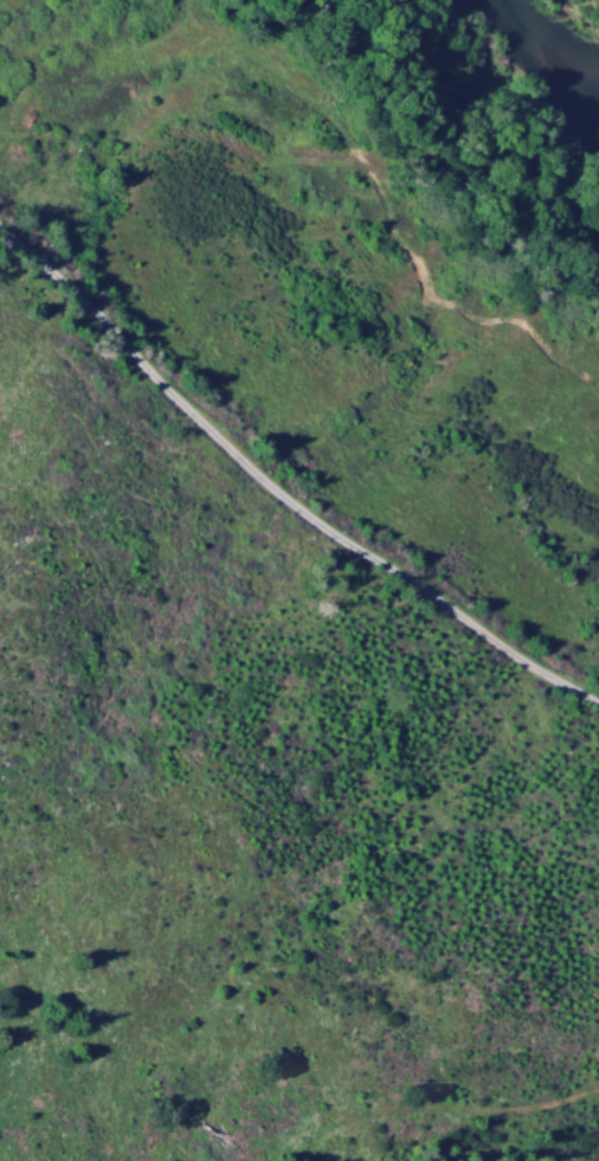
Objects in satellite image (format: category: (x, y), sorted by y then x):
river: (543, 51)
road: (282, 501)

